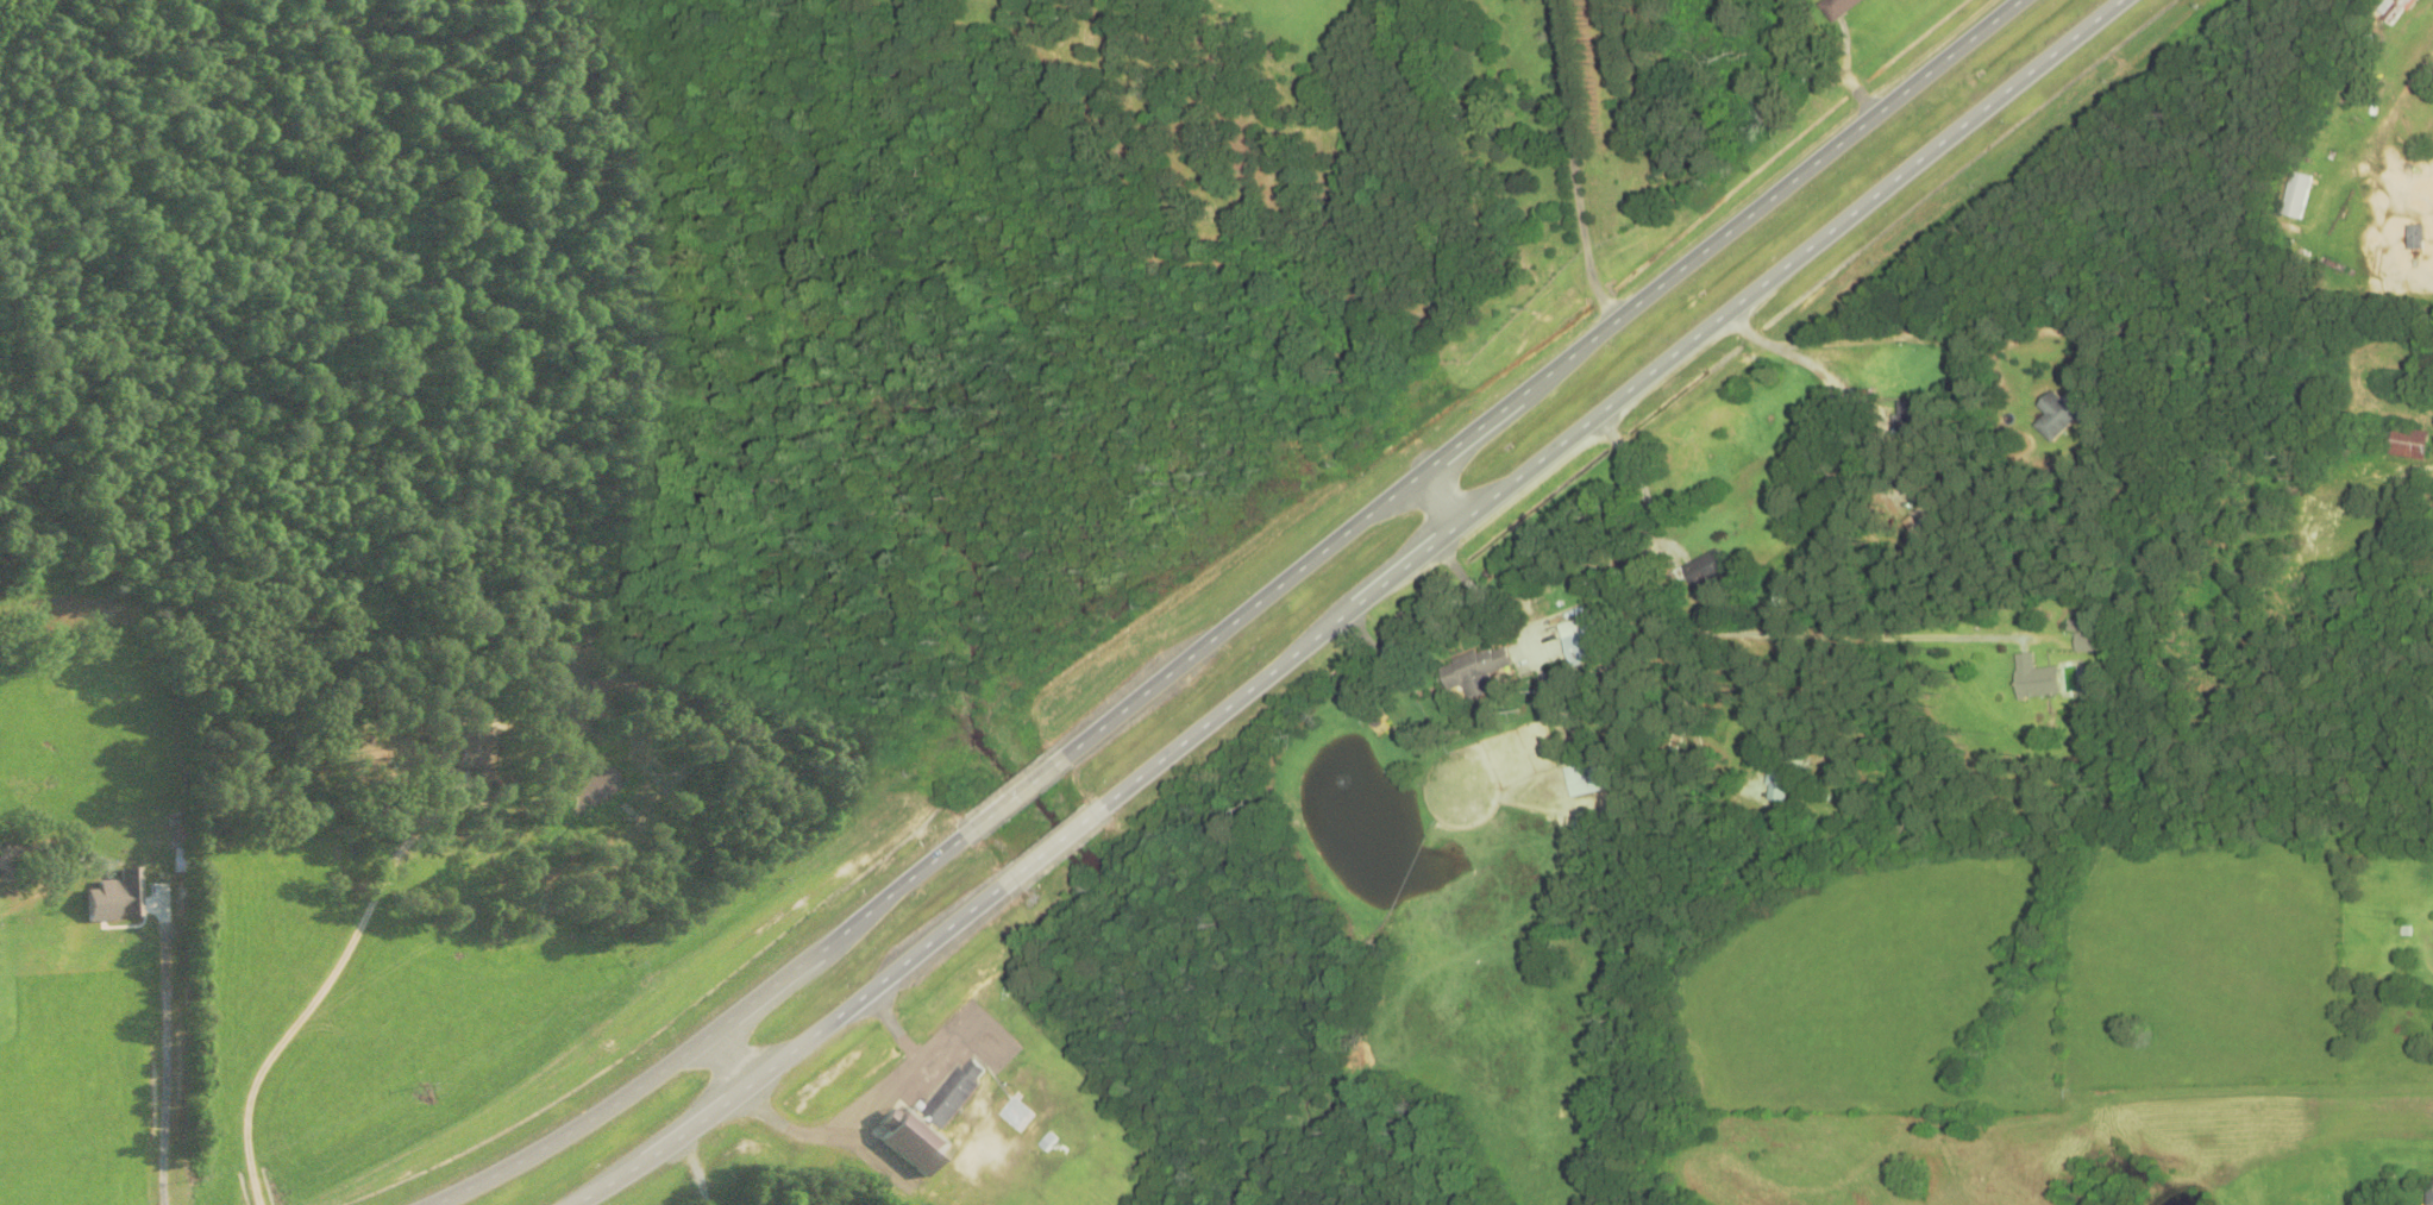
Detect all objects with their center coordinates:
building: (1836, 7)
road: (1833, 59)
building: (2295, 195)
road: (1536, 382)
road: (1606, 403)
building: (1906, 414)
building: (2056, 414)
building: (2407, 443)
road: (1437, 503)
road: (1883, 550)
building: (1704, 569)
building: (1576, 641)
building: (2087, 642)
building: (1473, 671)
building: (2034, 678)
road: (1842, 726)
building: (1785, 780)
building: (1578, 787)
road: (1012, 797)
road: (1053, 851)
road: (1989, 912)
road: (715, 1036)
road: (796, 1053)
road: (732, 1063)
building: (953, 1093)
building: (1015, 1116)
road: (2343, 1126)
building: (2429, 1191)

